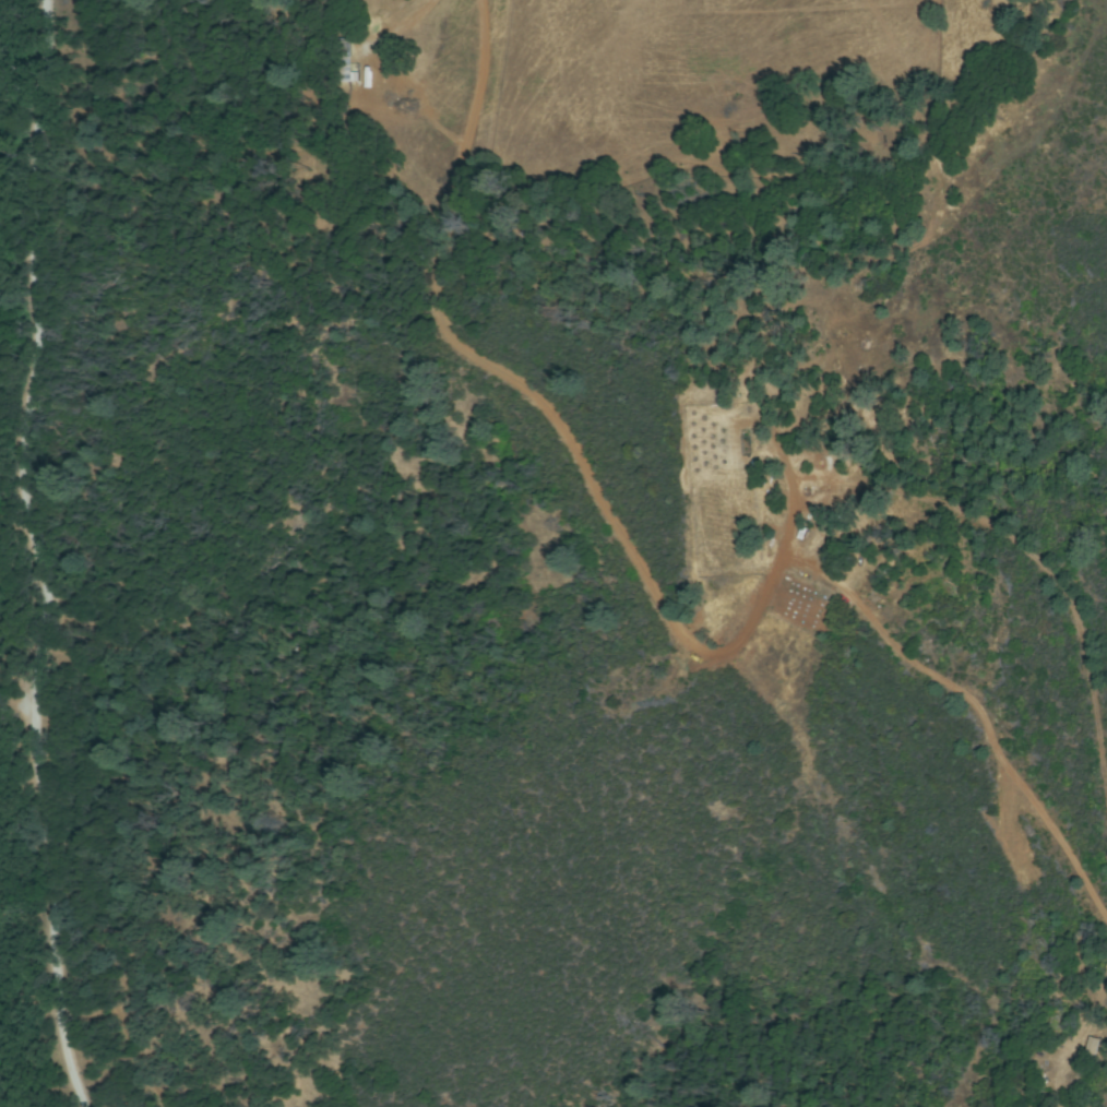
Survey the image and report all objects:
road: (24, 556)

